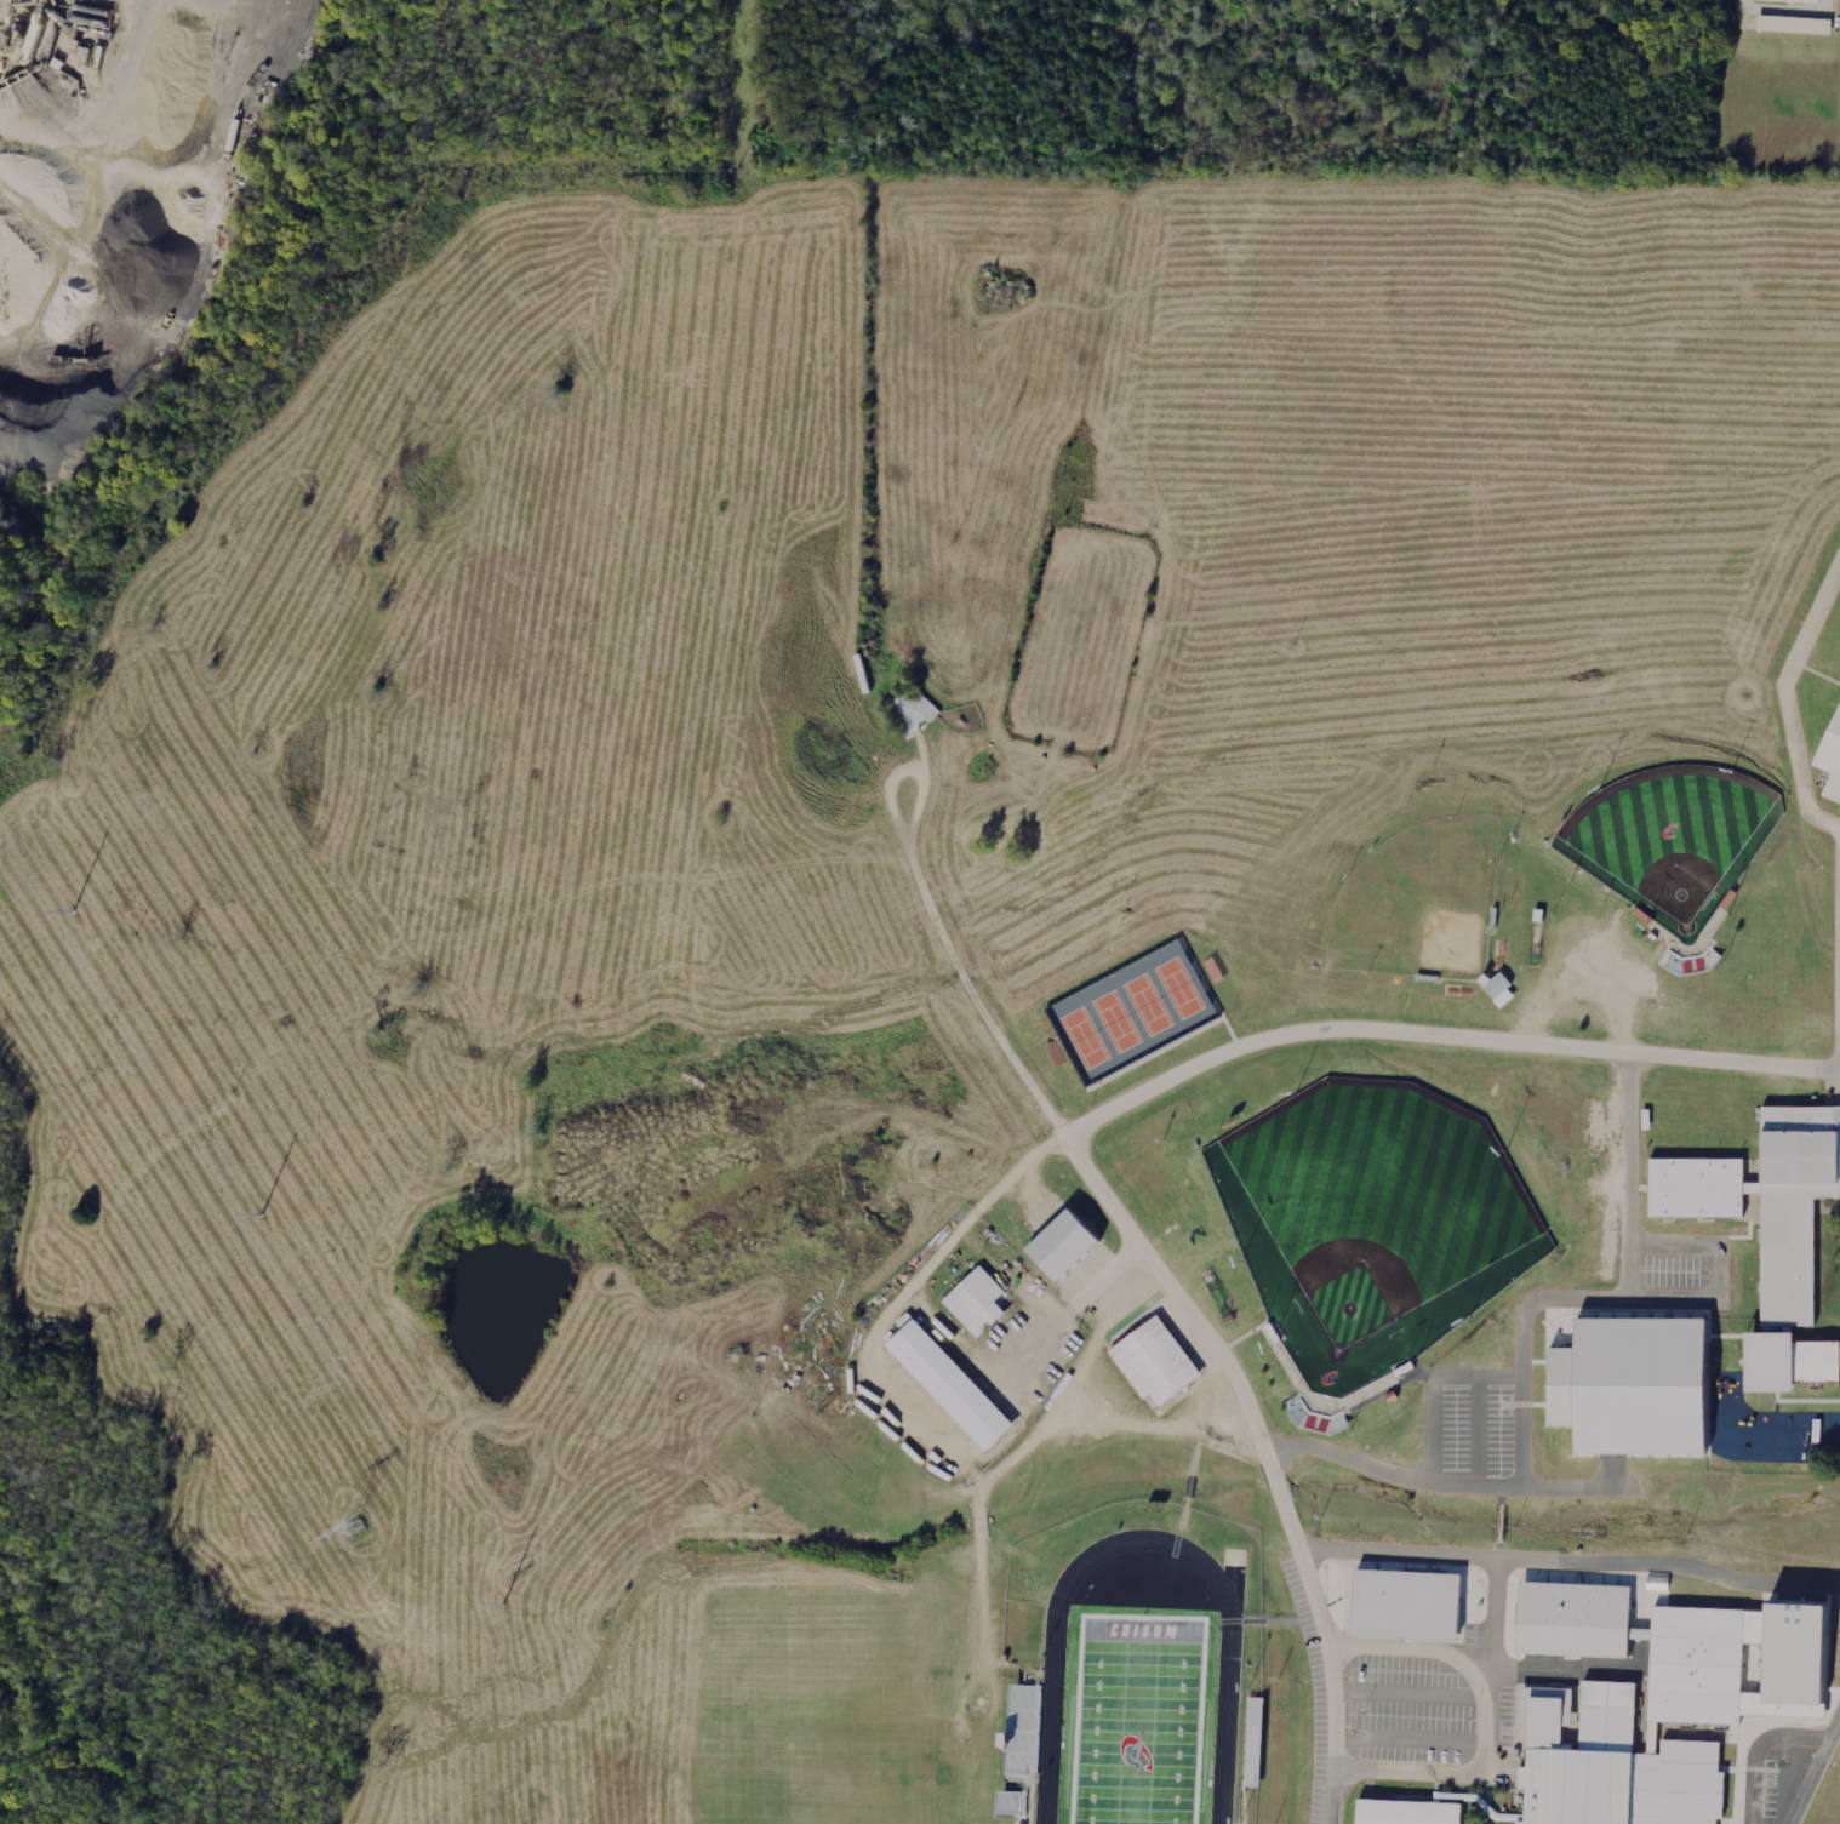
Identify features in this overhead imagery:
building: (1804, 0)
building: (1794, 24)
road: (1784, 699)
building: (912, 710)
building: (1829, 751)
park: (1674, 835)
building: (1499, 990)
road: (1082, 1123)
park: (1373, 1218)
building: (1762, 1223)
building: (1050, 1246)
building: (968, 1299)
building: (1838, 1355)
building: (1148, 1359)
building: (948, 1384)
building: (1629, 1386)
power tower: (360, 1531)
building: (1405, 1605)
building: (1691, 1662)
building: (1255, 1722)
building: (1024, 1731)
road: (1813, 1766)
building: (1616, 1771)
building: (1011, 1802)
building: (1399, 1811)

